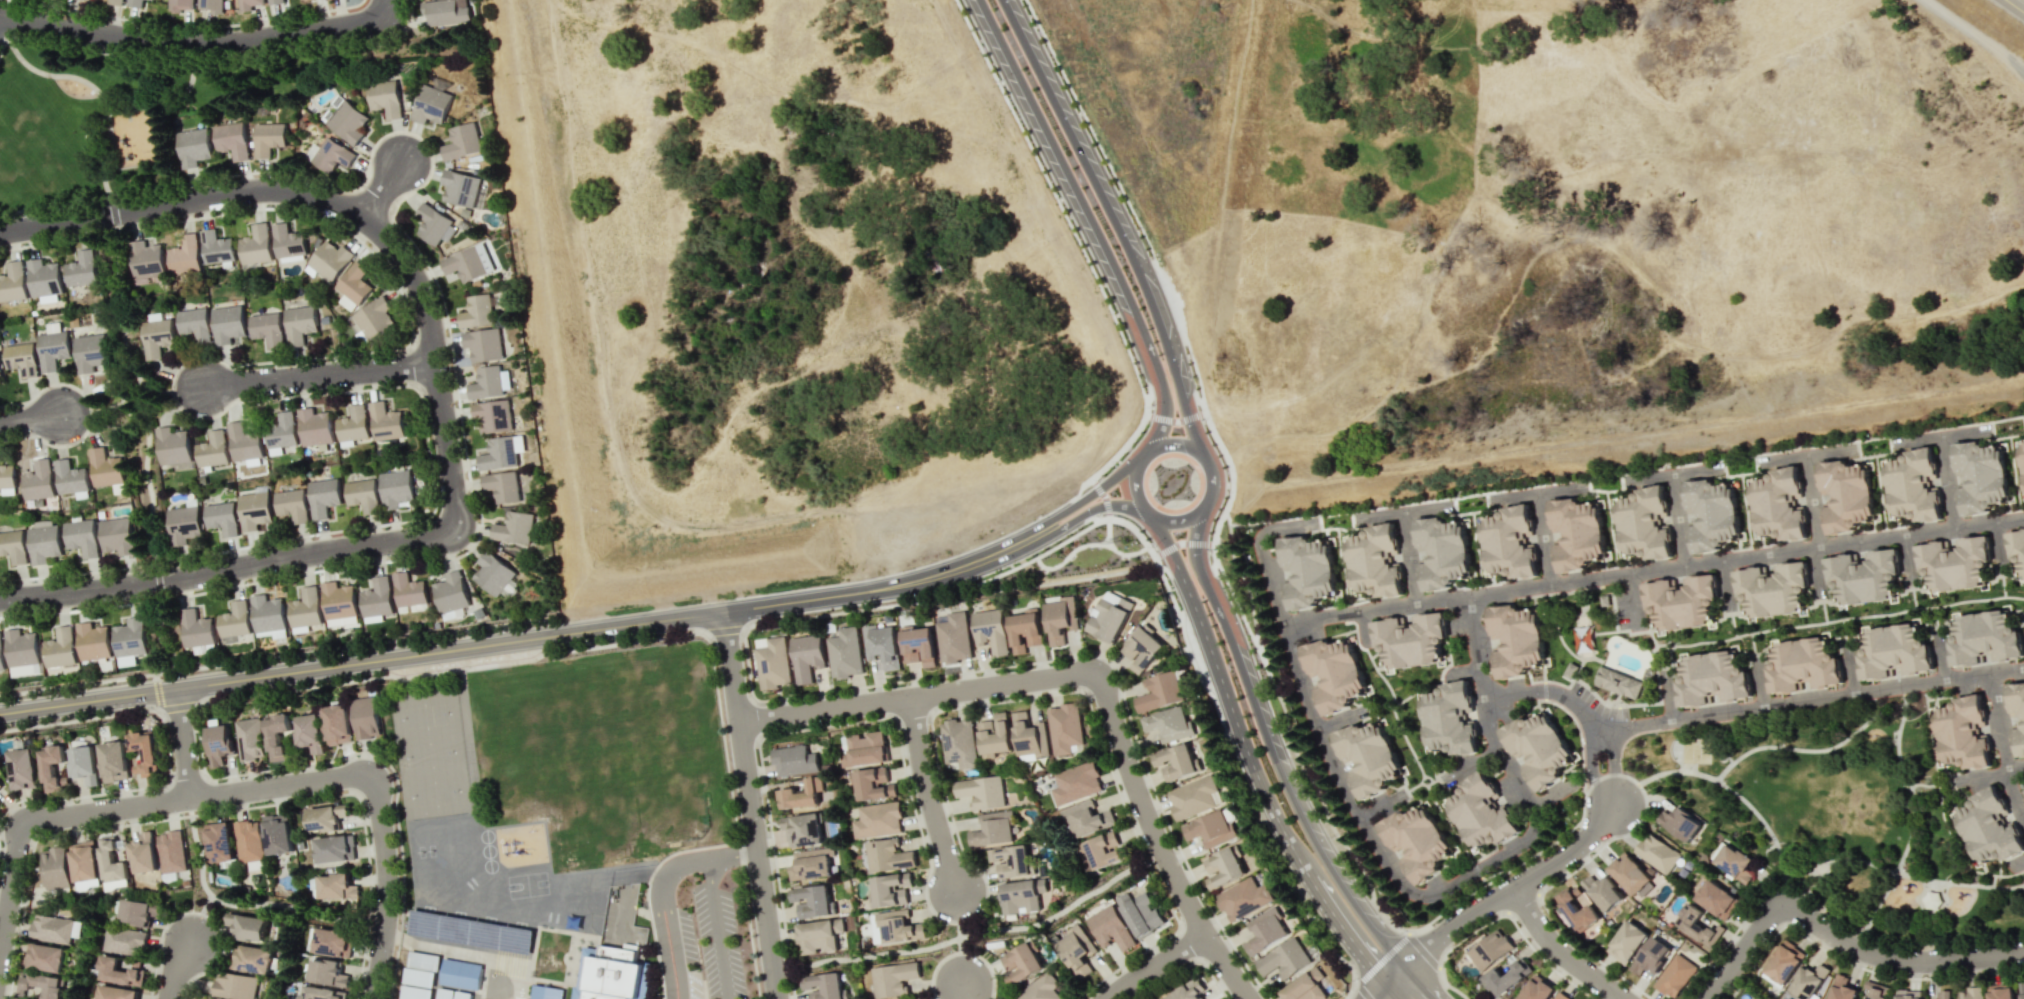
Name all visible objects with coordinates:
building: (87, 0)
building: (153, 0)
building: (305, 0)
building: (115, 2)
building: (275, 2)
building: (135, 3)
building: (248, 4)
building: (180, 5)
building: (211, 5)
road: (2013, 8)
road: (379, 9)
building: (445, 12)
road: (187, 44)
street lamp: (1000, 80)
road: (97, 90)
building: (384, 98)
road: (161, 102)
building: (430, 105)
park: (149, 109)
street lamp: (1079, 113)
building: (347, 121)
building: (268, 139)
building: (231, 140)
building: (461, 141)
street lamp: (427, 143)
building: (193, 147)
building: (333, 155)
building: (459, 188)
road: (379, 190)
street lamp: (1059, 197)
road: (54, 205)
road: (346, 209)
road: (111, 212)
road: (1089, 218)
road: (1112, 218)
street lamp: (327, 219)
building: (432, 224)
street lamp: (1138, 229)
building: (287, 241)
building: (255, 245)
building: (217, 248)
building: (184, 254)
building: (329, 260)
building: (146, 261)
building: (464, 264)
building: (81, 269)
building: (44, 280)
building: (13, 282)
building: (353, 286)
road: (124, 307)
building: (476, 312)
street lamp: (1115, 313)
building: (374, 318)
building: (193, 324)
building: (227, 324)
building: (299, 324)
building: (267, 328)
building: (156, 335)
building: (483, 342)
building: (52, 347)
building: (90, 352)
building: (20, 358)
building: (0, 371)
building: (0, 374)
road: (318, 374)
building: (485, 380)
street lamp: (365, 387)
road: (125, 389)
road: (174, 389)
park: (131, 397)
street lamp: (1151, 405)
road: (90, 410)
street lamp: (224, 411)
building: (493, 416)
road: (29, 418)
street lamp: (1203, 420)
building: (385, 422)
building: (352, 424)
building: (314, 427)
building: (280, 433)
road: (1940, 435)
building: (242, 442)
road: (1157, 445)
street lamp: (49, 446)
building: (211, 447)
building: (172, 448)
building: (499, 453)
road: (1807, 454)
street lamp: (1118, 459)
building: (2022, 460)
building: (105, 467)
building: (6, 479)
building: (70, 479)
building: (37, 481)
road: (1946, 481)
building: (1981, 481)
street lamp: (1226, 483)
building: (501, 486)
building: (395, 488)
building: (1915, 490)
road: (148, 491)
road: (1090, 492)
building: (362, 495)
building: (322, 497)
building: (1848, 499)
road: (1811, 500)
building: (291, 505)
road: (1094, 507)
building: (1781, 508)
building: (253, 510)
building: (1709, 511)
street lamp: (1098, 513)
street lamp: (1039, 515)
building: (220, 517)
road: (1677, 519)
building: (182, 524)
building: (1648, 526)
building: (514, 528)
street lamp: (348, 530)
building: (116, 536)
building: (1582, 536)
building: (81, 537)
road: (1542, 538)
building: (1511, 541)
building: (43, 542)
road: (1165, 543)
street lamp: (1153, 545)
building: (13, 546)
building: (2019, 548)
road: (1260, 550)
building: (1442, 551)
street lamp: (1208, 552)
street lamp: (455, 554)
road: (1408, 557)
building: (1375, 561)
street lamp: (1010, 564)
building: (1959, 566)
street lamp: (1103, 568)
building: (1305, 568)
road: (225, 569)
road: (1652, 569)
building: (494, 575)
building: (1865, 579)
road: (157, 581)
street lamp: (246, 581)
road: (890, 585)
building: (407, 588)
building: (450, 590)
building: (1772, 591)
building: (376, 600)
road: (1633, 600)
building: (338, 604)
building: (1679, 604)
building: (305, 610)
building: (268, 617)
building: (1109, 617)
building: (1060, 619)
building: (234, 620)
street lamp: (1248, 620)
street lamp: (509, 625)
building: (196, 629)
building: (991, 630)
building: (1025, 630)
park: (164, 635)
building: (131, 638)
building: (953, 638)
building: (1416, 640)
building: (93, 642)
building: (1987, 642)
building: (1518, 643)
road: (164, 644)
street lamp: (594, 644)
building: (918, 644)
building: (882, 645)
road: (1474, 646)
building: (61, 648)
building: (1142, 648)
road: (448, 649)
building: (23, 653)
building: (845, 653)
building: (1, 656)
building: (1895, 656)
building: (807, 657)
street lamp: (1108, 659)
building: (1570, 669)
building: (1807, 669)
building: (1337, 671)
road: (1094, 677)
building: (1617, 680)
building: (1716, 682)
road: (1548, 690)
building: (1159, 692)
road: (157, 693)
road: (87, 700)
road: (1797, 701)
road: (176, 706)
street lamp: (111, 712)
building: (2017, 713)
park: (424, 715)
park: (425, 715)
building: (365, 718)
building: (337, 724)
building: (1168, 724)
building: (1064, 728)
building: (1443, 729)
building: (309, 732)
building: (1966, 733)
building: (277, 736)
building: (994, 736)
building: (1029, 736)
building: (250, 739)
road: (182, 742)
building: (958, 743)
building: (219, 744)
road: (2003, 747)
building: (867, 748)
building: (1538, 748)
park: (1695, 749)
road: (1810, 749)
building: (144, 750)
road: (1270, 751)
park: (429, 754)
park: (430, 754)
street lamp: (1138, 755)
building: (1372, 759)
building: (793, 760)
building: (113, 761)
building: (1176, 762)
building: (85, 763)
road: (1611, 763)
road: (1592, 765)
building: (54, 766)
road: (1510, 768)
building: (22, 769)
street lamp: (270, 771)
road: (1959, 779)
building: (1075, 783)
building: (872, 784)
road: (1261, 787)
road: (244, 790)
road: (1732, 791)
park: (435, 792)
park: (435, 792)
building: (982, 792)
road: (925, 794)
building: (801, 795)
building: (1193, 797)
building: (0, 800)
road: (749, 805)
street lamp: (181, 814)
building: (1484, 815)
park: (1838, 815)
building: (326, 817)
building: (1086, 819)
building: (876, 820)
road: (1912, 821)
road: (1362, 822)
building: (1679, 823)
building: (1989, 828)
building: (992, 829)
building: (1209, 829)
building: (802, 830)
building: (277, 834)
street lamp: (1332, 836)
building: (247, 841)
building: (219, 842)
building: (1417, 843)
park: (195, 846)
building: (334, 848)
street lamp: (29, 849)
building: (1103, 850)
building: (171, 851)
building: (1657, 853)
building: (143, 854)
street lamp: (1590, 854)
building: (887, 855)
building: (83, 861)
building: (1010, 861)
building: (112, 862)
building: (1735, 863)
building: (809, 865)
building: (55, 868)
building: (1223, 868)
road: (1900, 873)
building: (1630, 874)
park: (527, 884)
building: (335, 887)
road: (661, 889)
building: (890, 889)
road: (1506, 891)
building: (1602, 892)
building: (1021, 896)
building: (1242, 899)
building: (1716, 899)
building: (1935, 900)
building: (812, 901)
road: (254, 903)
building: (1577, 908)
street lamp: (1820, 908)
building: (135, 912)
building: (1140, 913)
road: (198, 918)
street lamp: (1316, 918)
building: (1697, 925)
building: (245, 926)
building: (897, 927)
building: (1110, 928)
building: (51, 929)
road: (716, 929)
park: (971, 929)
building: (1265, 931)
road: (975, 934)
street lamp: (1222, 934)
building: (819, 936)
road: (1840, 939)
building: (124, 941)
parking lot: (717, 941)
building: (331, 942)
building: (1626, 942)
street lamp: (1452, 943)
street lamp: (394, 950)
building: (1489, 950)
building: (1075, 951)
road: (1558, 951)
building: (1650, 956)
building: (46, 958)
street lamp: (1592, 958)
building: (252, 959)
building: (1284, 959)
building: (423, 960)
building: (1021, 962)
street lamp: (1715, 963)
building: (1783, 963)
road: (1152, 964)
road: (173, 969)
building: (119, 972)
building: (326, 973)
building: (460, 973)
building: (612, 974)
building: (1507, 975)
street lamp: (1923, 975)
building: (418, 976)
building: (1675, 976)
building: (893, 979)
road: (1420, 981)
building: (1807, 982)
building: (823, 985)
building: (234, 986)
building: (39, 987)
building: (1305, 987)
road: (1380, 987)
building: (1041, 988)
building: (1841, 988)
building: (1536, 989)
road: (1394, 990)
building: (1875, 990)
building: (2021, 990)
road: (967, 991)
building: (1188, 991)
building: (2000, 991)
building: (414, 992)
building: (546, 992)
building: (116, 993)
building: (321, 993)
building: (444, 993)
building: (1970, 993)
building: (462, 994)
building: (1907, 994)
building: (1943, 994)
building: (1559, 996)

